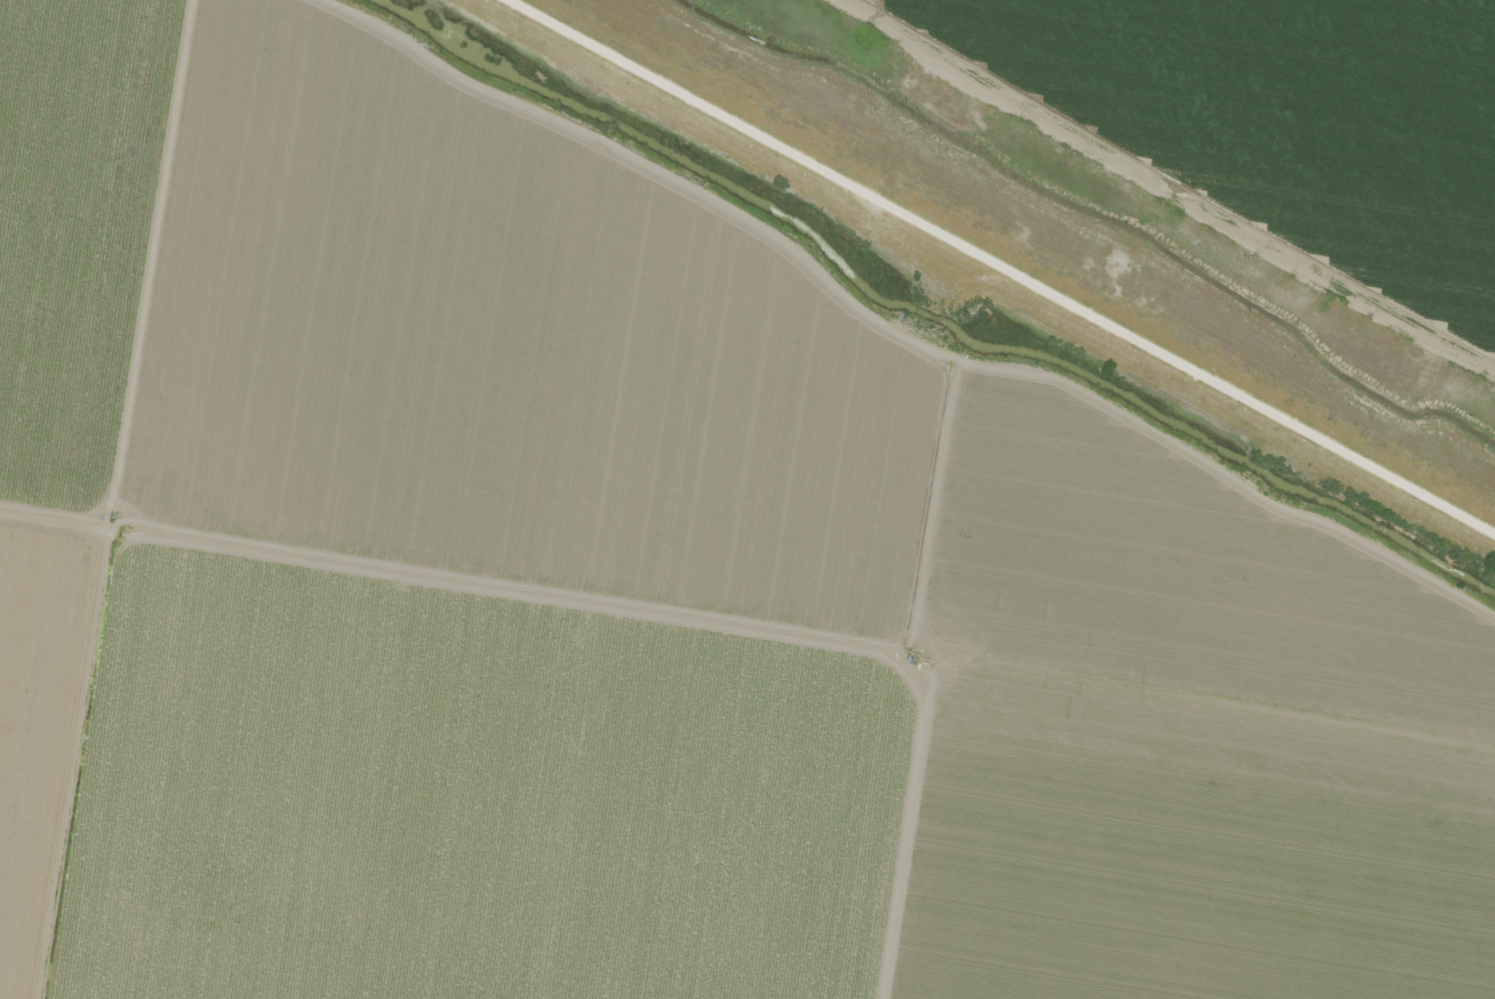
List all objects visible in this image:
river: (746, 187)
road: (1037, 253)

